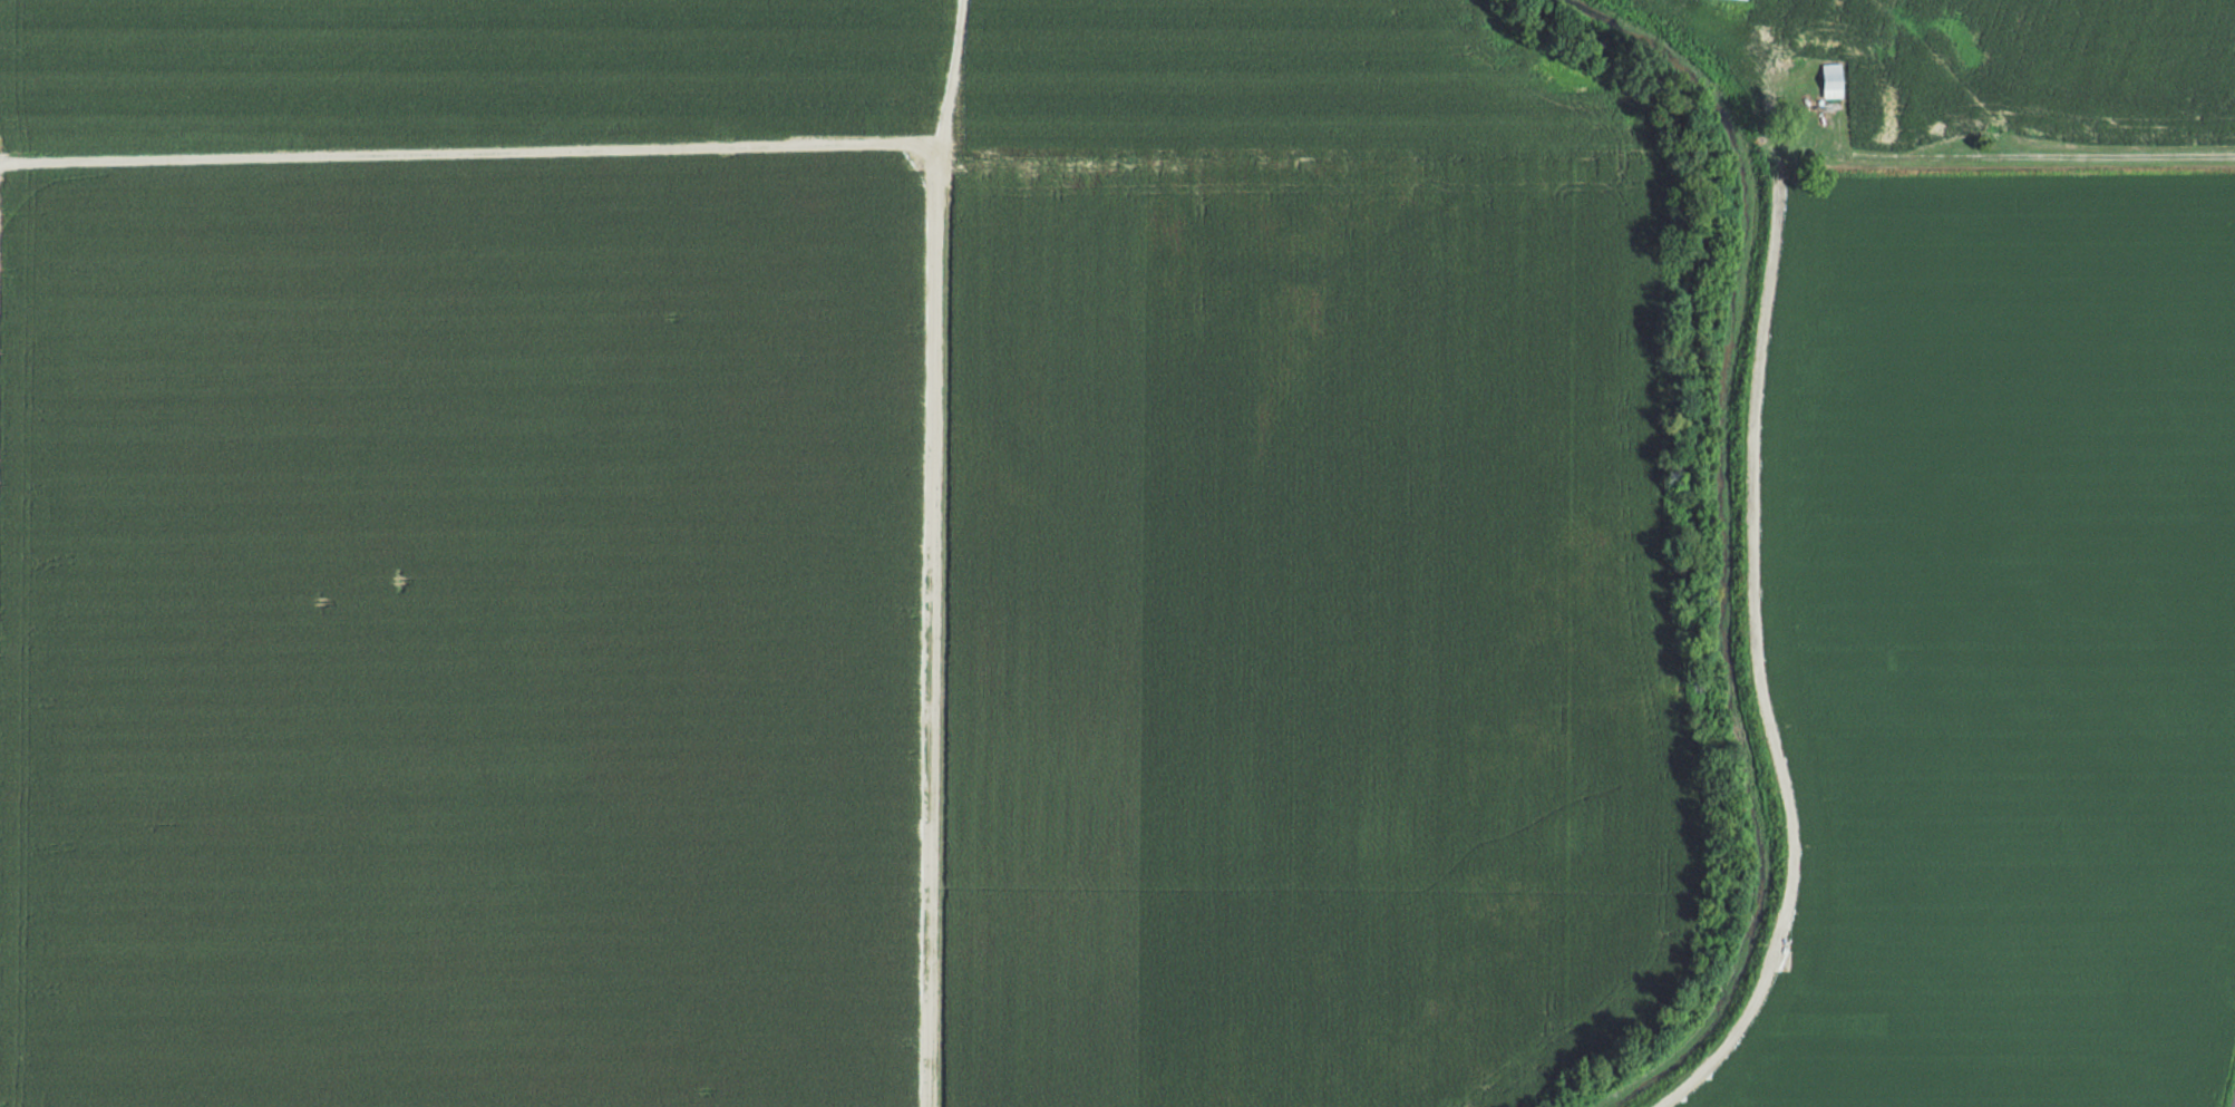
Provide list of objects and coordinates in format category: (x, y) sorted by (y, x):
road: (1514, 43)
road: (950, 77)
building: (1833, 79)
road: (468, 152)
road: (2012, 155)
road: (941, 629)

